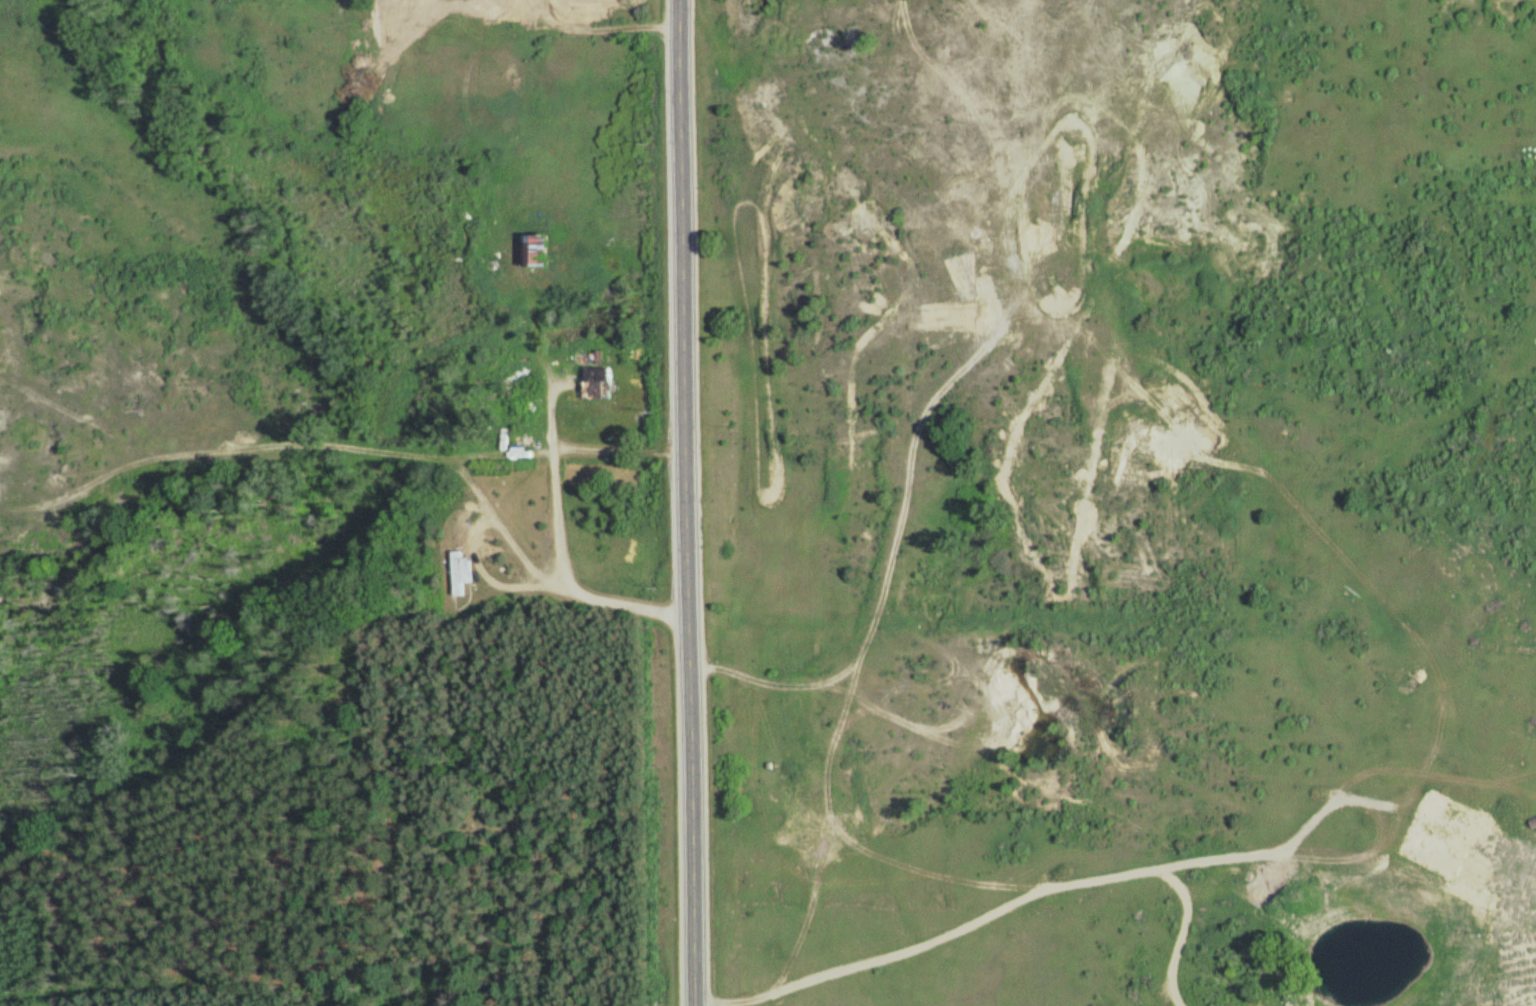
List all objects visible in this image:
building: (537, 250)
building: (3, 342)
building: (596, 382)
road: (372, 453)
road: (687, 503)

